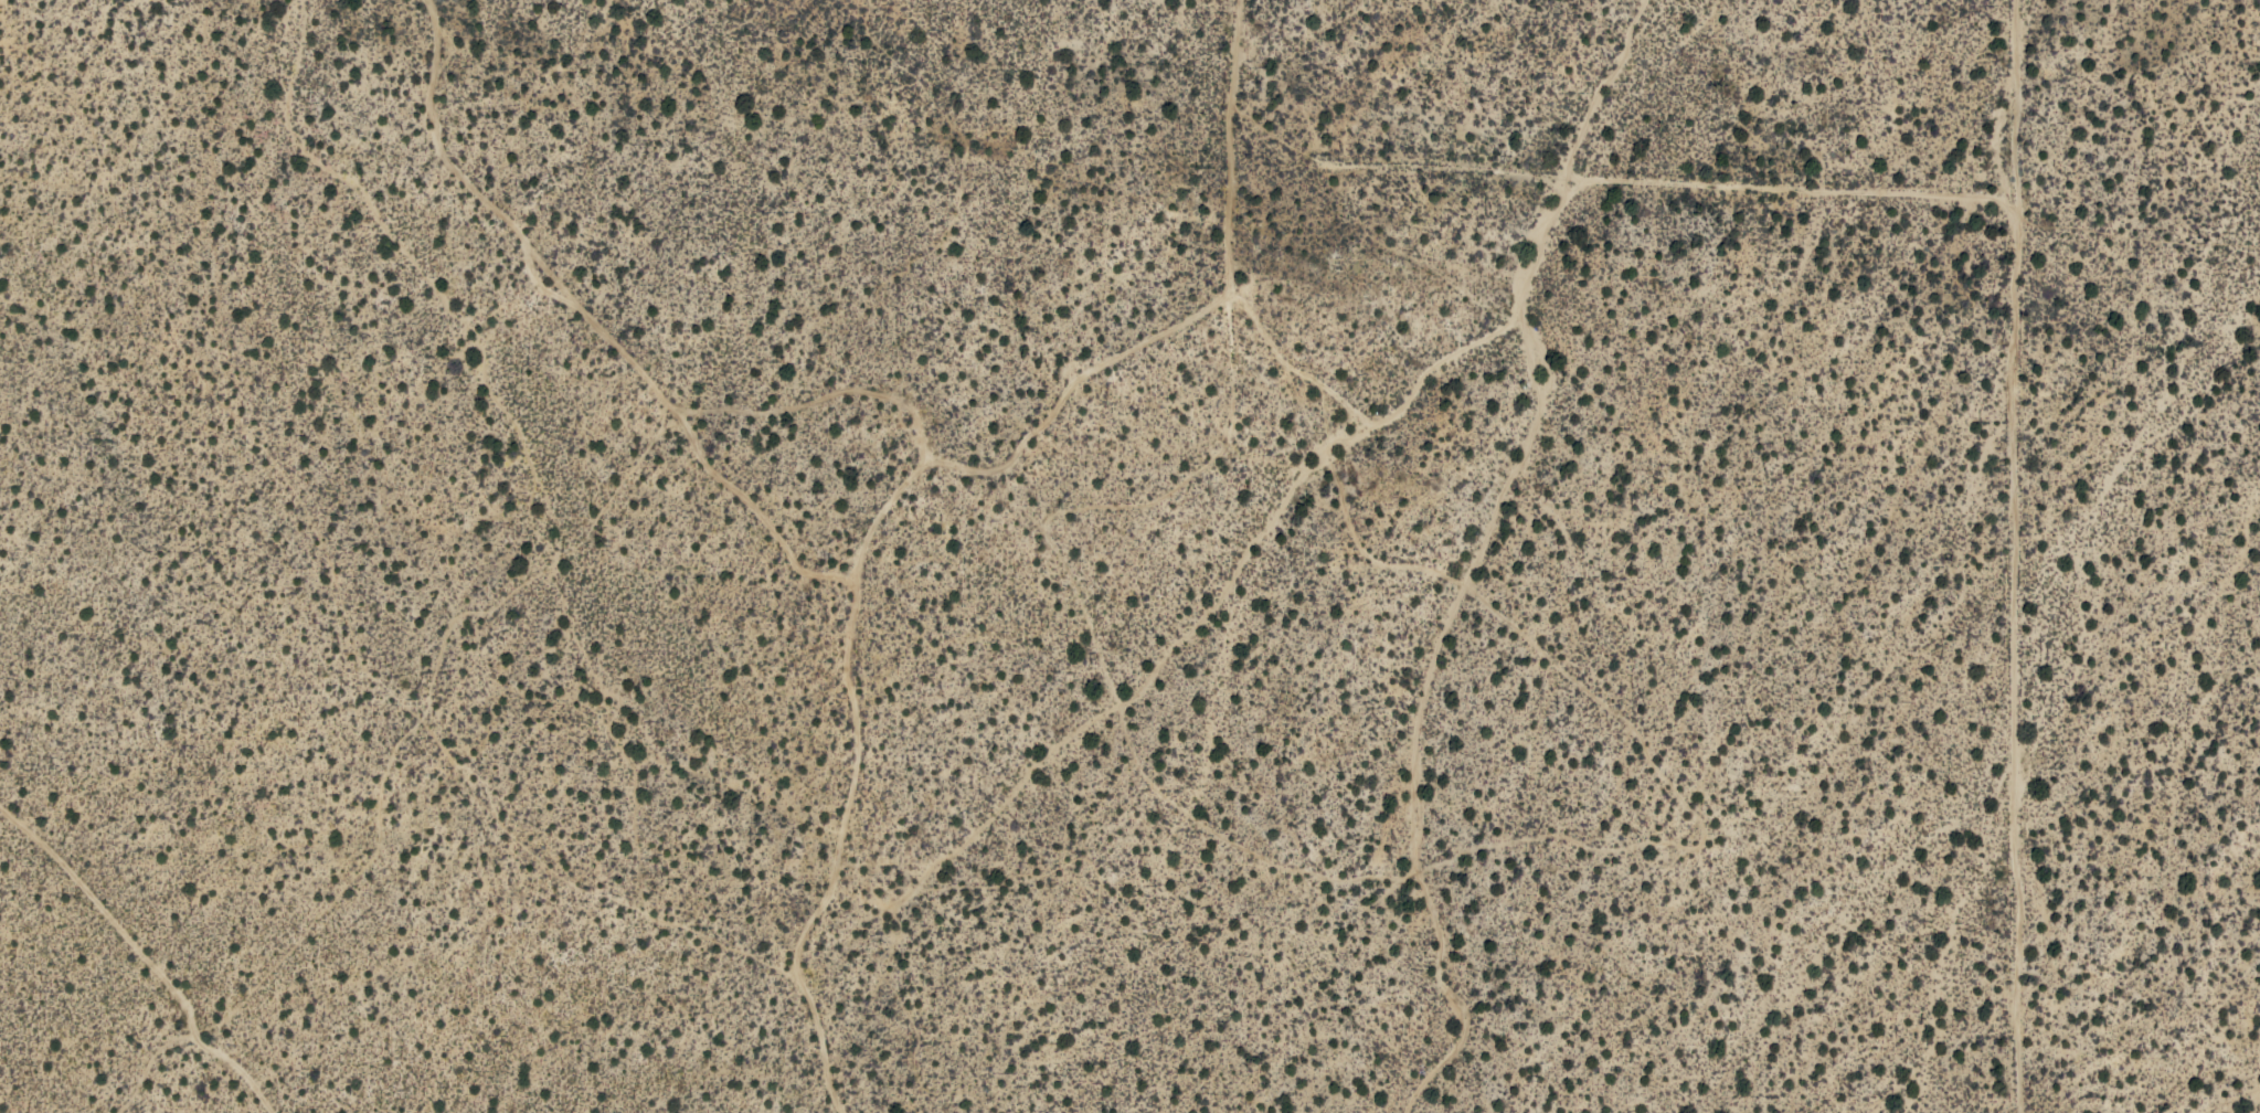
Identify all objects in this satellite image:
road: (2019, 556)

